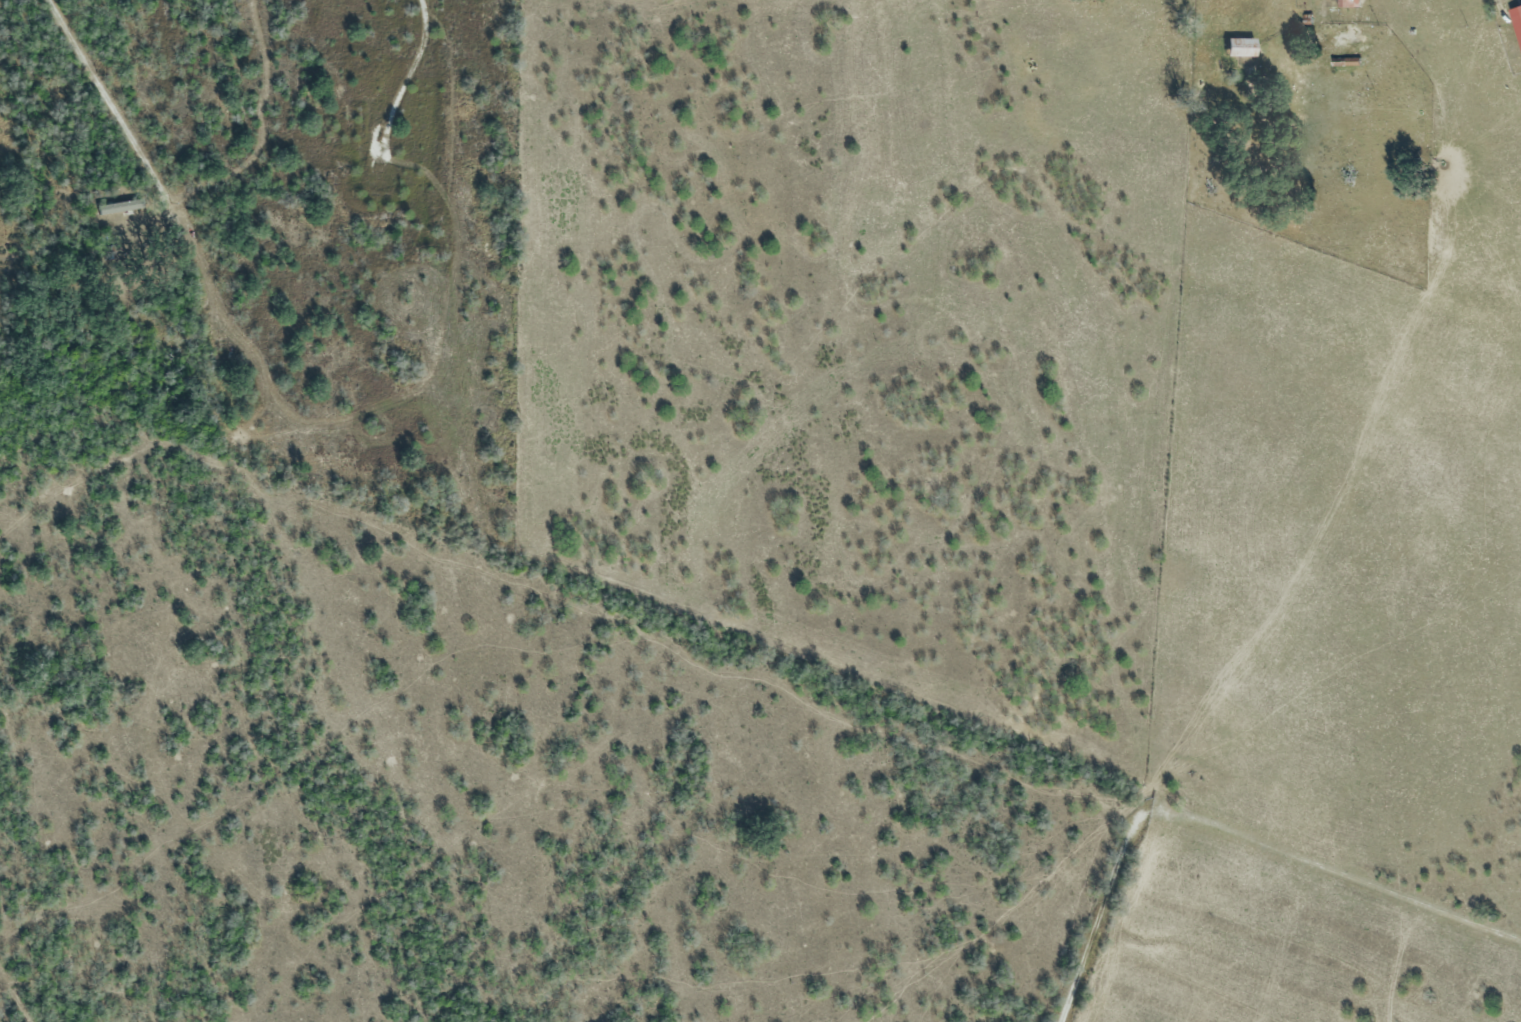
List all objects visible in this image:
building: (1350, 2)
building: (1517, 20)
building: (1236, 46)
road: (1329, 870)
road: (1095, 915)

